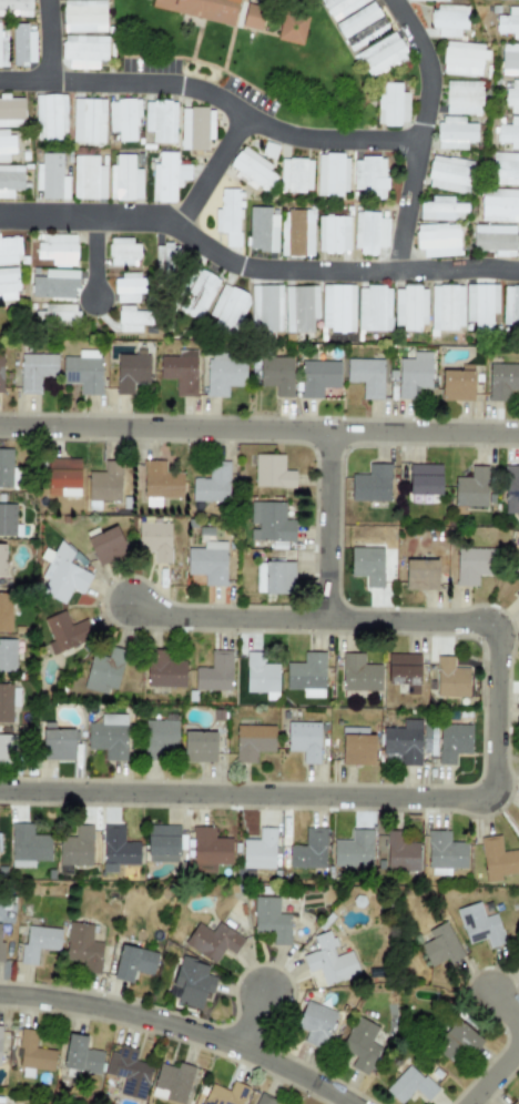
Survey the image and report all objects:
building: (441, 0)
building: (340, 7)
building: (14, 8)
building: (201, 9)
building: (252, 14)
building: (83, 16)
building: (449, 19)
building: (508, 22)
building: (362, 26)
building: (291, 28)
road: (48, 40)
building: (3, 44)
building: (22, 44)
building: (84, 51)
building: (379, 54)
building: (464, 58)
building: (509, 59)
road: (213, 94)
building: (462, 97)
building: (512, 97)
building: (391, 104)
building: (11, 112)
building: (50, 117)
building: (123, 118)
building: (88, 120)
building: (160, 120)
building: (195, 128)
road: (420, 130)
building: (454, 132)
building: (509, 132)
building: (6, 145)
building: (252, 168)
building: (505, 168)
road: (210, 169)
building: (449, 173)
building: (332, 174)
building: (295, 175)
building: (89, 176)
building: (166, 176)
building: (369, 176)
building: (51, 178)
building: (124, 179)
building: (10, 180)
building: (499, 204)
building: (441, 209)
building: (228, 215)
building: (262, 230)
building: (295, 232)
building: (368, 232)
building: (333, 234)
building: (493, 239)
building: (437, 240)
building: (58, 249)
building: (9, 250)
building: (123, 252)
road: (94, 255)
building: (163, 259)
road: (253, 267)
building: (8, 283)
building: (54, 284)
building: (128, 287)
building: (196, 292)
building: (480, 304)
building: (510, 305)
building: (446, 306)
building: (228, 307)
building: (265, 307)
building: (299, 307)
building: (337, 307)
building: (409, 307)
building: (374, 308)
building: (59, 312)
building: (131, 318)
building: (0, 371)
building: (35, 371)
building: (180, 371)
building: (131, 372)
building: (82, 374)
building: (224, 374)
building: (413, 374)
building: (275, 375)
building: (366, 376)
building: (317, 377)
building: (502, 381)
building: (457, 383)
road: (258, 429)
building: (6, 467)
building: (272, 472)
building: (62, 477)
building: (425, 479)
building: (161, 480)
building: (104, 482)
building: (212, 483)
building: (372, 484)
building: (511, 484)
building: (471, 487)
building: (7, 518)
building: (271, 520)
road: (328, 524)
building: (154, 539)
building: (105, 545)
building: (2, 559)
building: (207, 563)
building: (367, 565)
building: (471, 565)
building: (421, 573)
building: (516, 573)
building: (63, 574)
building: (274, 577)
building: (517, 592)
building: (64, 631)
building: (7, 655)
building: (163, 670)
building: (404, 670)
building: (102, 671)
building: (214, 672)
building: (358, 673)
building: (306, 675)
building: (261, 676)
building: (450, 678)
building: (4, 702)
building: (108, 736)
building: (160, 737)
building: (303, 740)
building: (252, 741)
building: (452, 741)
building: (57, 742)
building: (401, 743)
building: (199, 746)
building: (356, 746)
building: (4, 748)
road: (496, 771)
building: (161, 843)
building: (27, 845)
building: (77, 847)
building: (208, 847)
building: (116, 849)
building: (353, 849)
building: (258, 850)
building: (308, 850)
building: (400, 852)
building: (444, 852)
building: (497, 857)
building: (269, 919)
building: (479, 924)
building: (212, 940)
building: (1, 942)
building: (38, 942)
building: (440, 945)
building: (83, 946)
building: (518, 955)
building: (328, 960)
building: (133, 962)
building: (190, 982)
road: (503, 1004)
building: (318, 1016)
road: (254, 1021)
road: (182, 1026)
building: (0, 1031)
building: (456, 1040)
building: (358, 1043)
building: (33, 1052)
building: (80, 1055)
building: (128, 1071)
road: (492, 1074)
building: (171, 1082)
building: (409, 1084)
building: (224, 1094)
building: (264, 1100)
building: (517, 1102)

